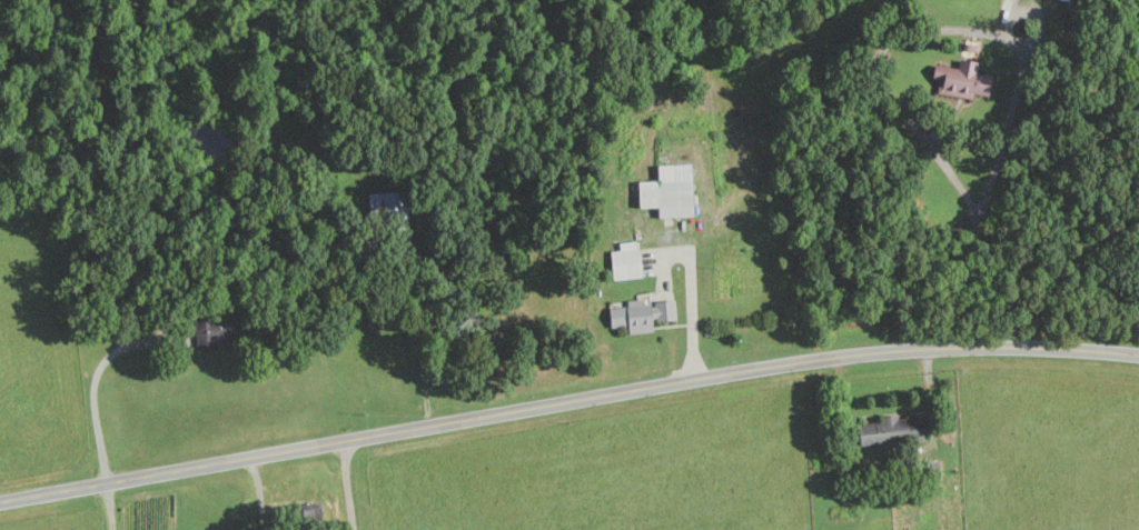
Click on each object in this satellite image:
building: (1066, 0)
road: (1003, 37)
building: (959, 81)
building: (666, 190)
building: (384, 200)
building: (624, 260)
road: (692, 288)
building: (640, 313)
road: (92, 391)
road: (566, 400)
building: (890, 429)
road: (344, 486)
road: (255, 493)
road: (107, 507)

